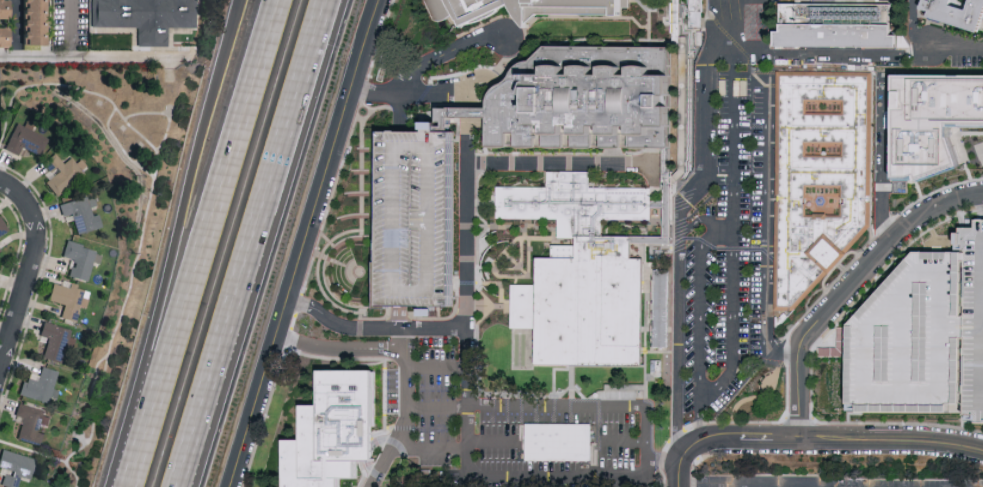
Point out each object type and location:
road: (722, 7)
building: (5, 8)
building: (697, 13)
building: (958, 13)
building: (146, 17)
building: (37, 21)
building: (840, 24)
road: (16, 27)
road: (69, 27)
road: (367, 35)
building: (5, 36)
road: (320, 44)
road: (325, 44)
road: (951, 44)
parking lot: (947, 47)
road: (442, 54)
road: (798, 54)
road: (72, 55)
road: (891, 57)
road: (921, 65)
road: (479, 77)
fountain: (483, 90)
road: (375, 92)
road: (431, 93)
road: (465, 96)
building: (586, 98)
road: (468, 103)
road: (498, 104)
road: (469, 111)
road: (401, 112)
building: (457, 114)
building: (935, 118)
road: (469, 119)
road: (477, 120)
building: (26, 138)
road: (469, 144)
road: (883, 155)
road: (613, 156)
road: (542, 165)
building: (818, 176)
building: (902, 185)
road: (15, 189)
road: (331, 199)
road: (681, 201)
road: (149, 205)
building: (82, 212)
building: (414, 218)
parking garage: (414, 218)
building: (3, 226)
road: (724, 230)
road: (930, 234)
road: (176, 242)
road: (203, 243)
road: (769, 245)
road: (468, 247)
building: (0, 249)
road: (928, 258)
building: (82, 259)
building: (580, 272)
road: (888, 273)
road: (909, 276)
road: (734, 277)
road: (293, 279)
road: (27, 288)
road: (243, 288)
road: (851, 290)
building: (69, 299)
road: (299, 303)
road: (951, 305)
building: (662, 307)
road: (702, 308)
road: (323, 314)
road: (399, 317)
road: (295, 320)
parking lot: (972, 321)
road: (382, 328)
road: (435, 328)
building: (924, 335)
road: (901, 336)
road: (290, 339)
building: (56, 340)
road: (817, 342)
road: (340, 349)
road: (287, 351)
road: (332, 358)
road: (950, 362)
road: (407, 367)
road: (883, 367)
road: (438, 368)
road: (792, 368)
road: (824, 375)
building: (41, 385)
road: (385, 395)
road: (468, 396)
road: (553, 406)
building: (33, 423)
road: (386, 427)
road: (402, 427)
building: (332, 432)
road: (742, 436)
road: (892, 438)
road: (494, 440)
building: (558, 441)
road: (625, 441)
road: (391, 448)
road: (430, 448)
road: (45, 456)
road: (680, 465)
building: (15, 467)
road: (577, 475)
road: (757, 483)

